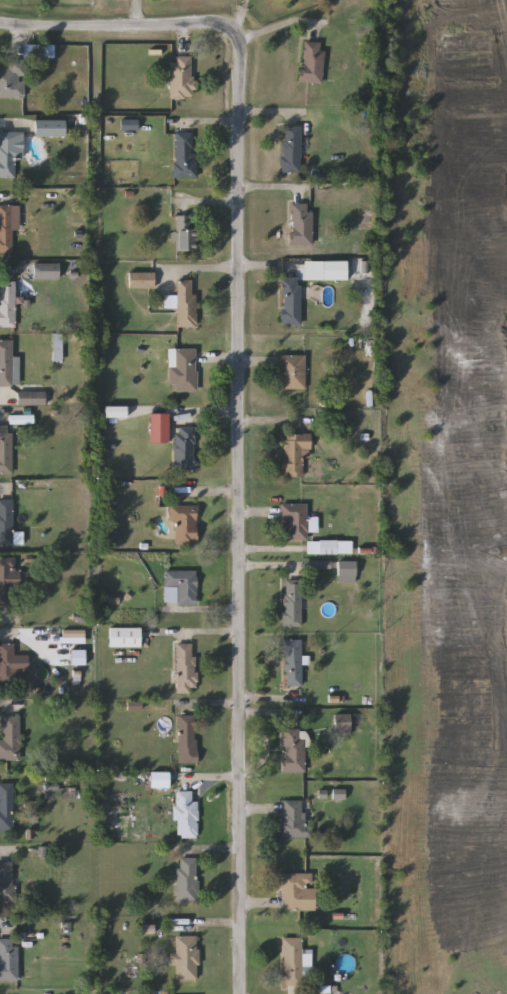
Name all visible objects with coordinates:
road: (240, 17)
road: (116, 27)
road: (274, 29)
building: (312, 62)
building: (182, 78)
building: (13, 80)
road: (234, 118)
road: (4, 124)
building: (49, 128)
building: (291, 150)
building: (10, 152)
building: (185, 155)
road: (269, 191)
road: (8, 196)
road: (204, 204)
building: (7, 226)
building: (187, 234)
road: (4, 271)
building: (46, 271)
road: (231, 271)
building: (141, 280)
building: (291, 302)
building: (7, 304)
building: (186, 304)
building: (6, 363)
building: (184, 371)
building: (292, 373)
building: (31, 398)
road: (5, 406)
road: (206, 414)
road: (271, 422)
building: (159, 424)
building: (185, 449)
building: (6, 450)
building: (294, 453)
road: (2, 489)
road: (205, 493)
road: (237, 513)
building: (294, 521)
building: (6, 524)
building: (184, 525)
building: (330, 547)
road: (268, 550)
road: (268, 570)
building: (347, 572)
building: (8, 581)
building: (181, 588)
building: (292, 603)
road: (199, 613)
road: (203, 634)
road: (6, 635)
building: (125, 637)
building: (292, 663)
building: (7, 664)
building: (186, 668)
road: (267, 699)
road: (209, 706)
road: (10, 709)
road: (267, 717)
building: (342, 724)
building: (11, 739)
building: (188, 740)
building: (294, 751)
road: (208, 781)
building: (7, 807)
building: (187, 816)
building: (293, 819)
road: (207, 851)
road: (8, 852)
building: (188, 881)
building: (7, 885)
building: (298, 893)
road: (210, 927)
road: (6, 932)
building: (187, 958)
building: (9, 960)
building: (293, 962)

